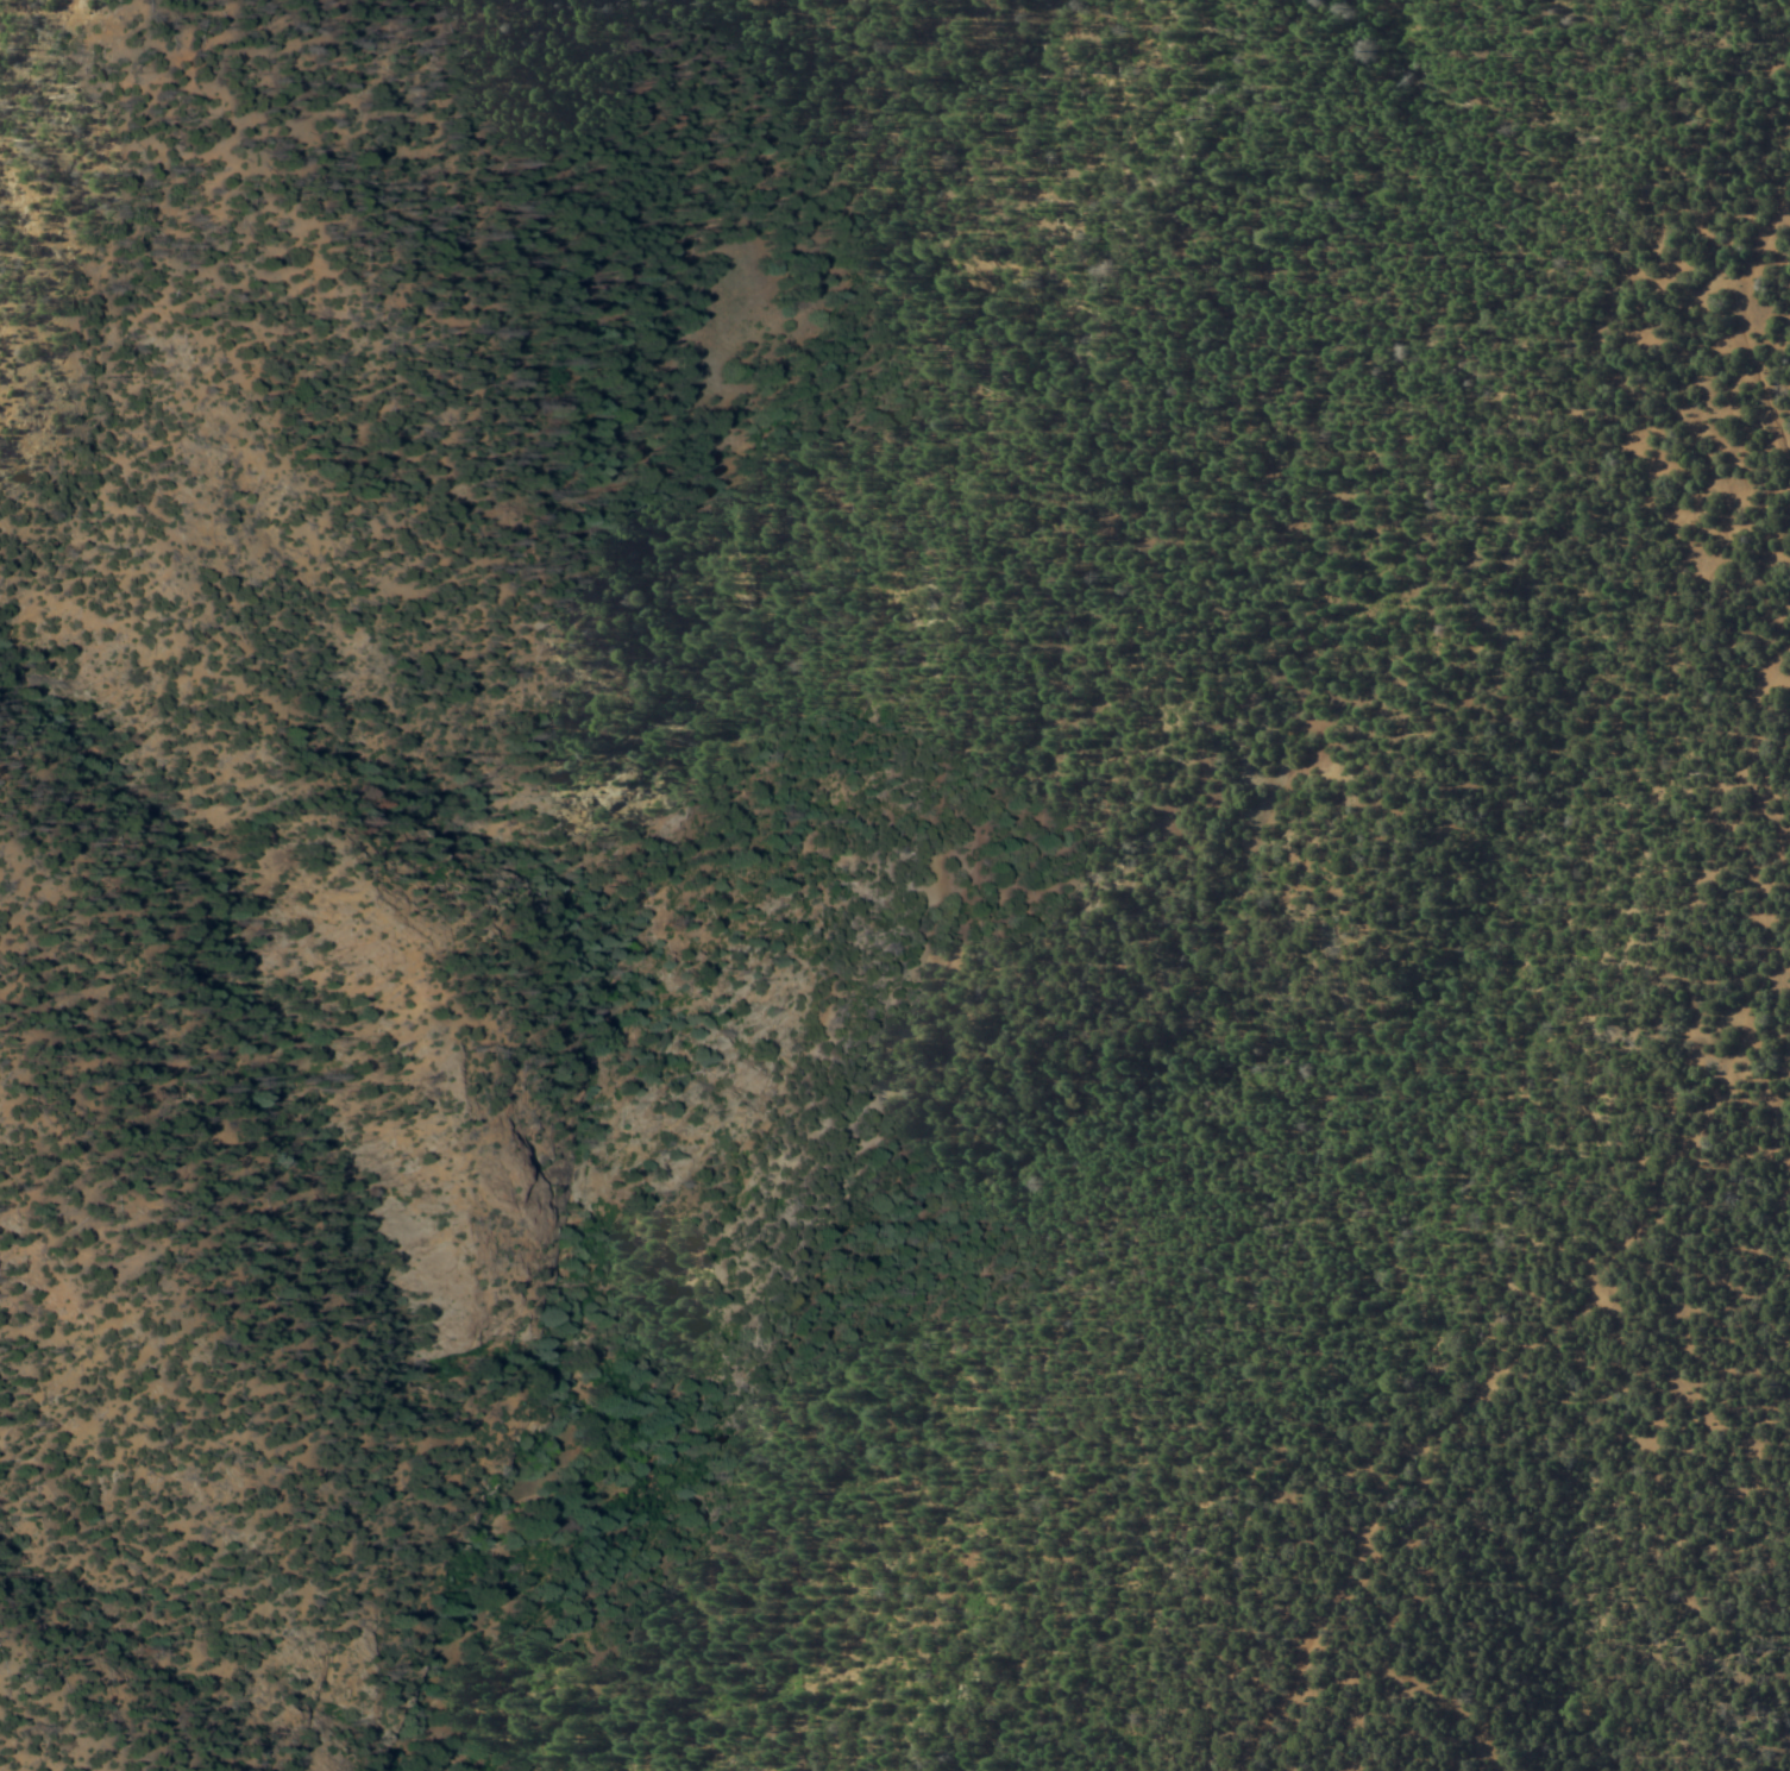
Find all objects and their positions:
road: (1752, 316)
road: (1508, 1363)
road: (1413, 1685)

